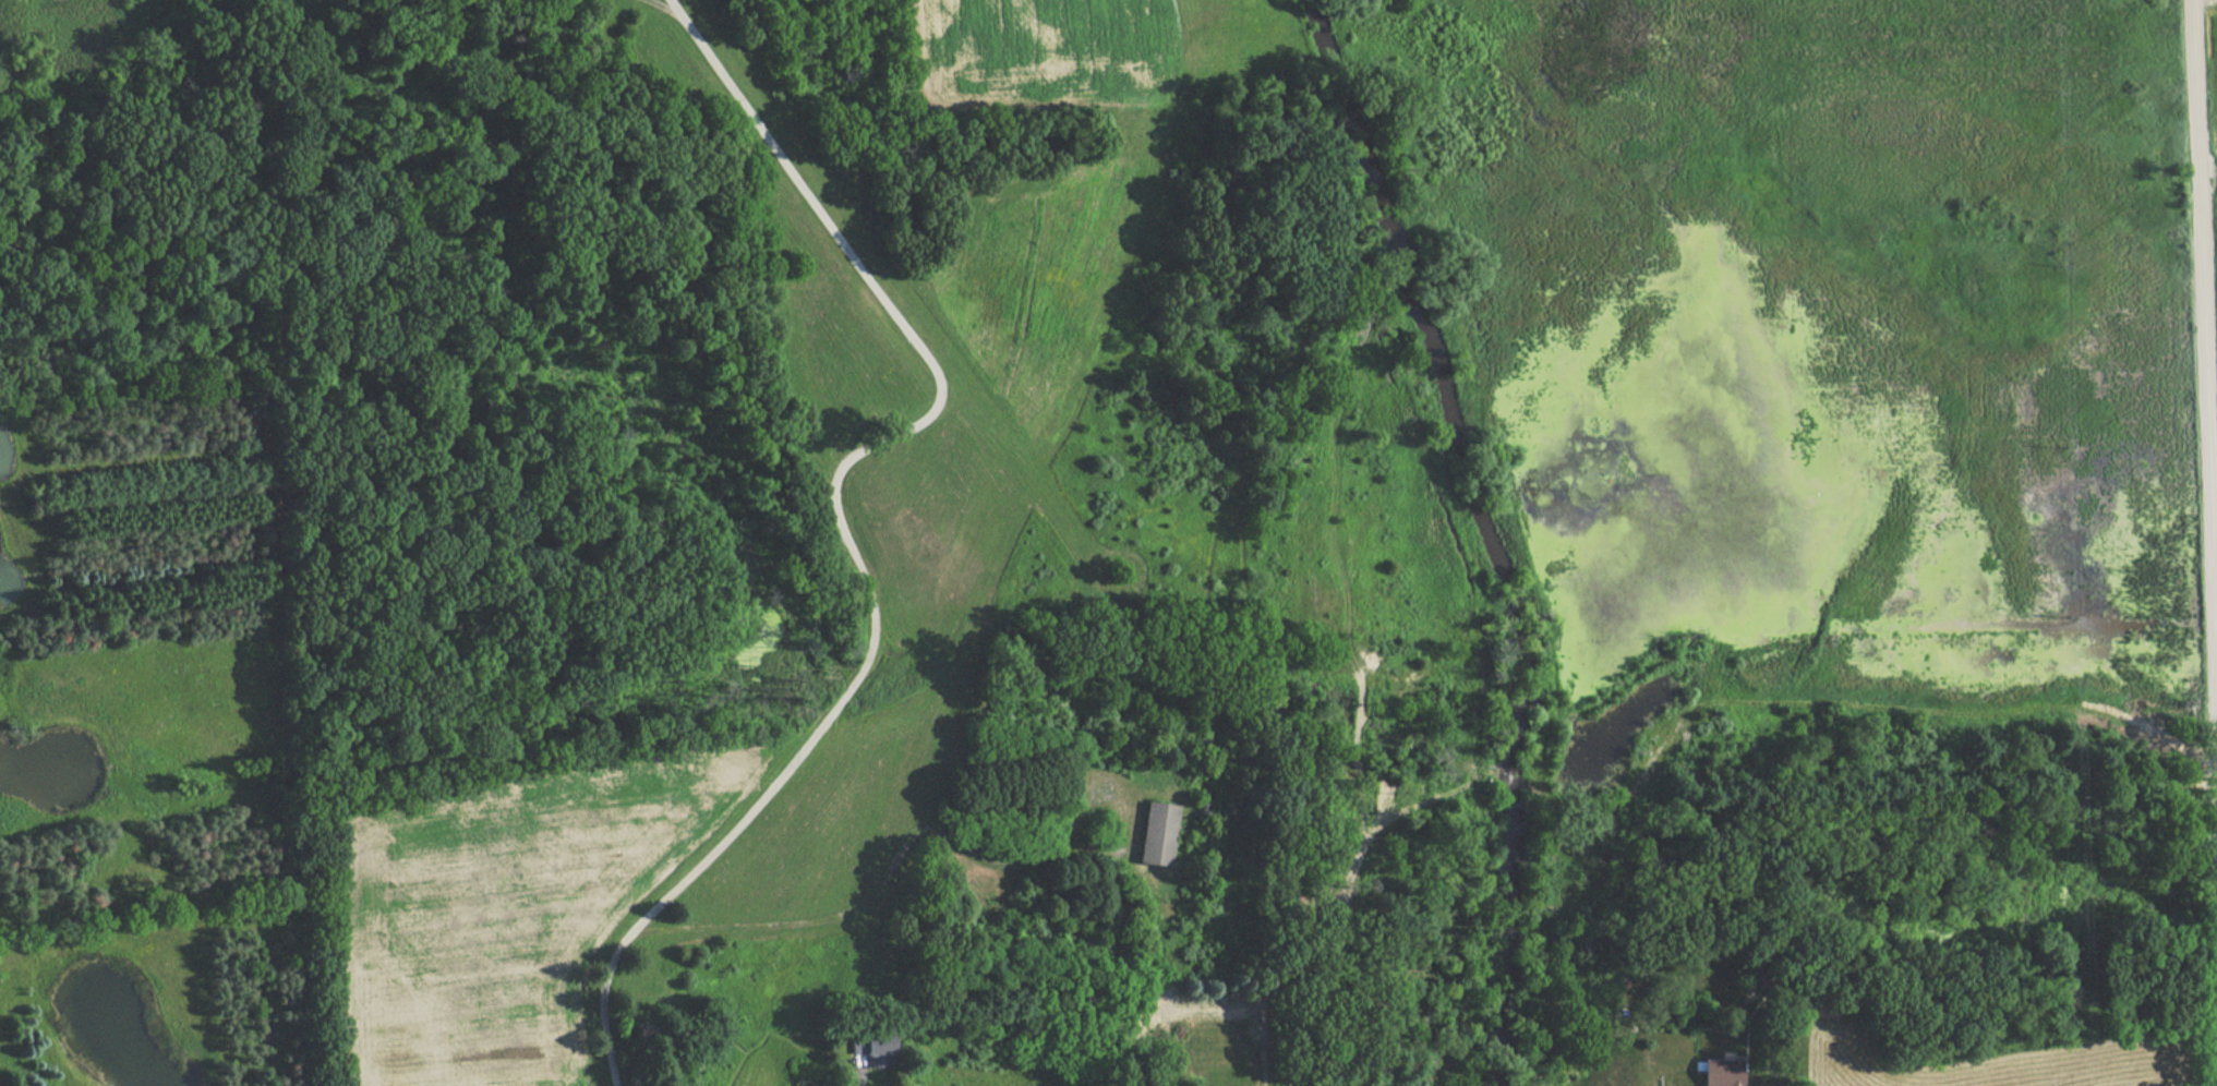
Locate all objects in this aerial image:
building: (481, 0)
road: (2205, 359)
road: (839, 522)
building: (1150, 834)
building: (1713, 1074)
road: (857, 1077)

